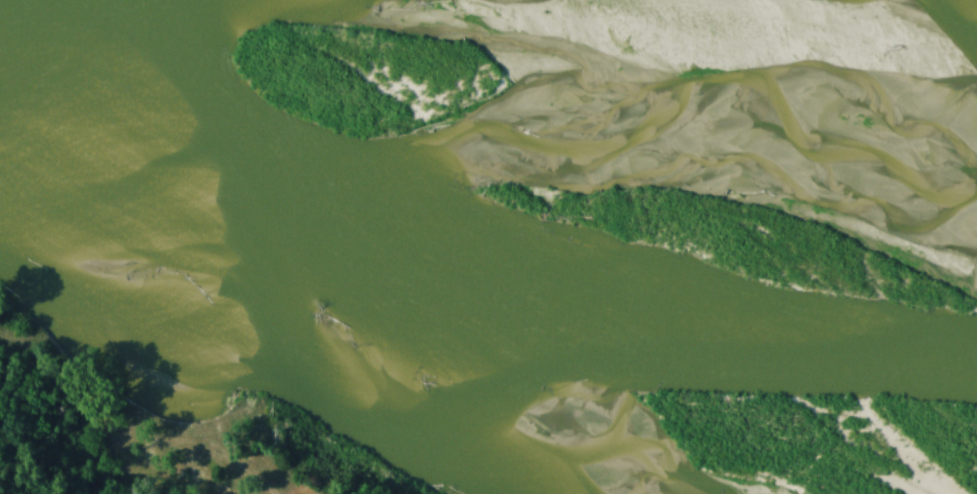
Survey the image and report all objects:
river: (904, 136)
river: (487, 178)

